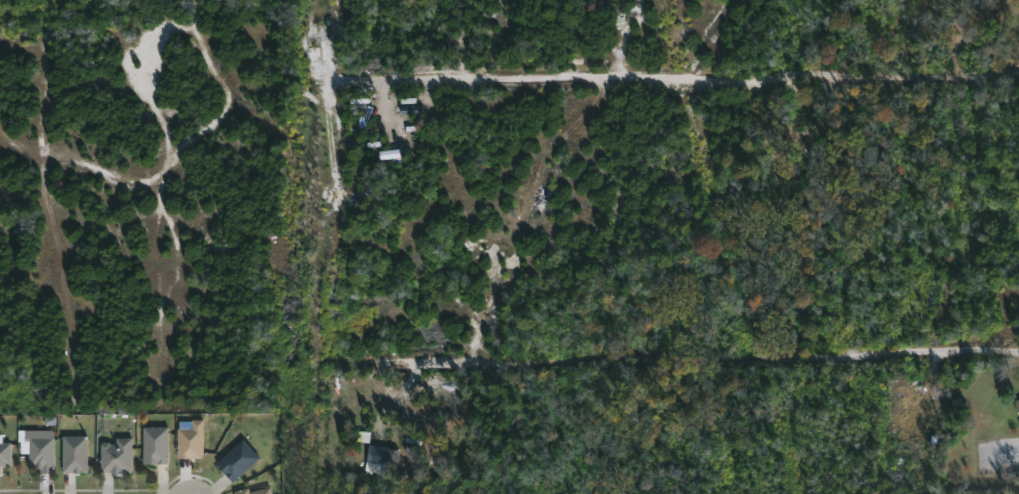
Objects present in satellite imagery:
road: (334, 1)
road: (676, 82)
road: (332, 248)
road: (677, 362)
building: (1017, 404)
building: (191, 441)
building: (154, 446)
building: (40, 449)
building: (4, 454)
building: (74, 454)
building: (116, 457)
building: (237, 459)
building: (380, 459)

